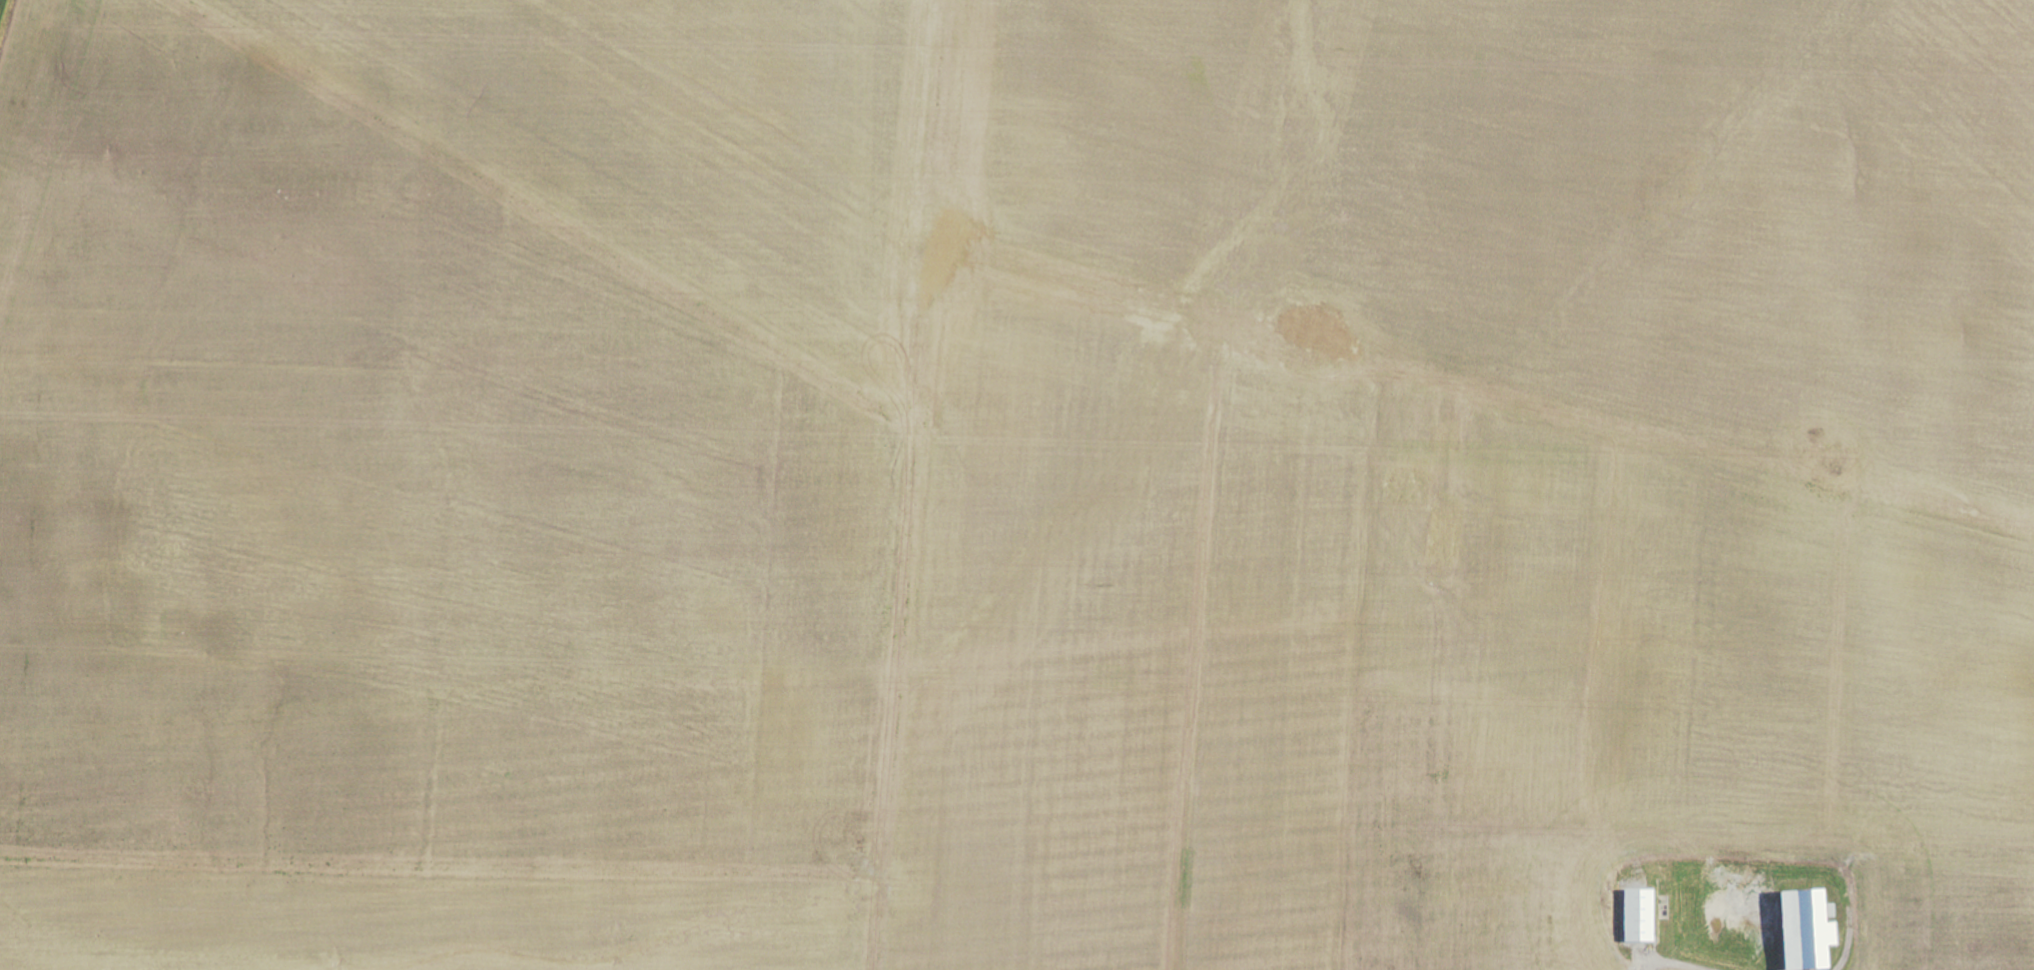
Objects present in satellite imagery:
building: (1639, 914)
road: (1849, 922)
building: (1806, 929)
road: (1672, 962)

